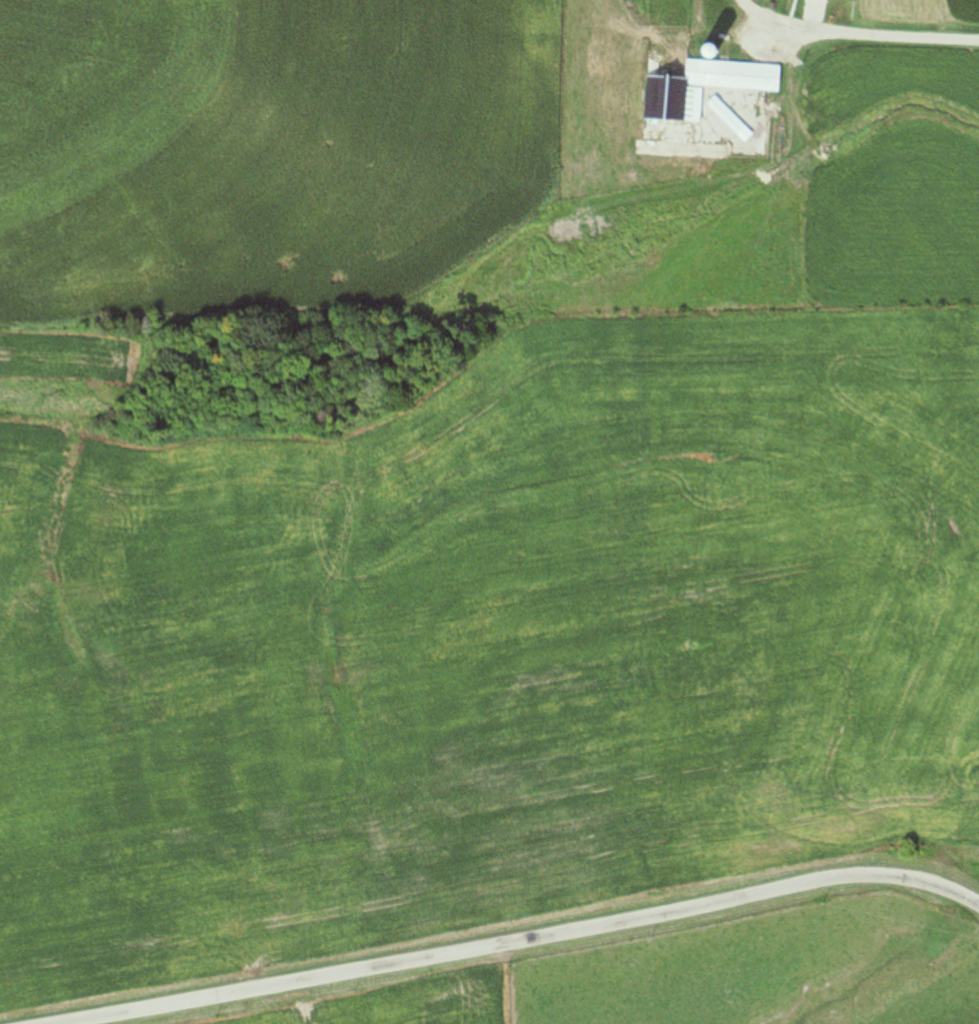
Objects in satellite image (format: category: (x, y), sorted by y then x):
road: (851, 35)
building: (710, 52)
building: (673, 89)
building: (728, 119)
road: (531, 940)

